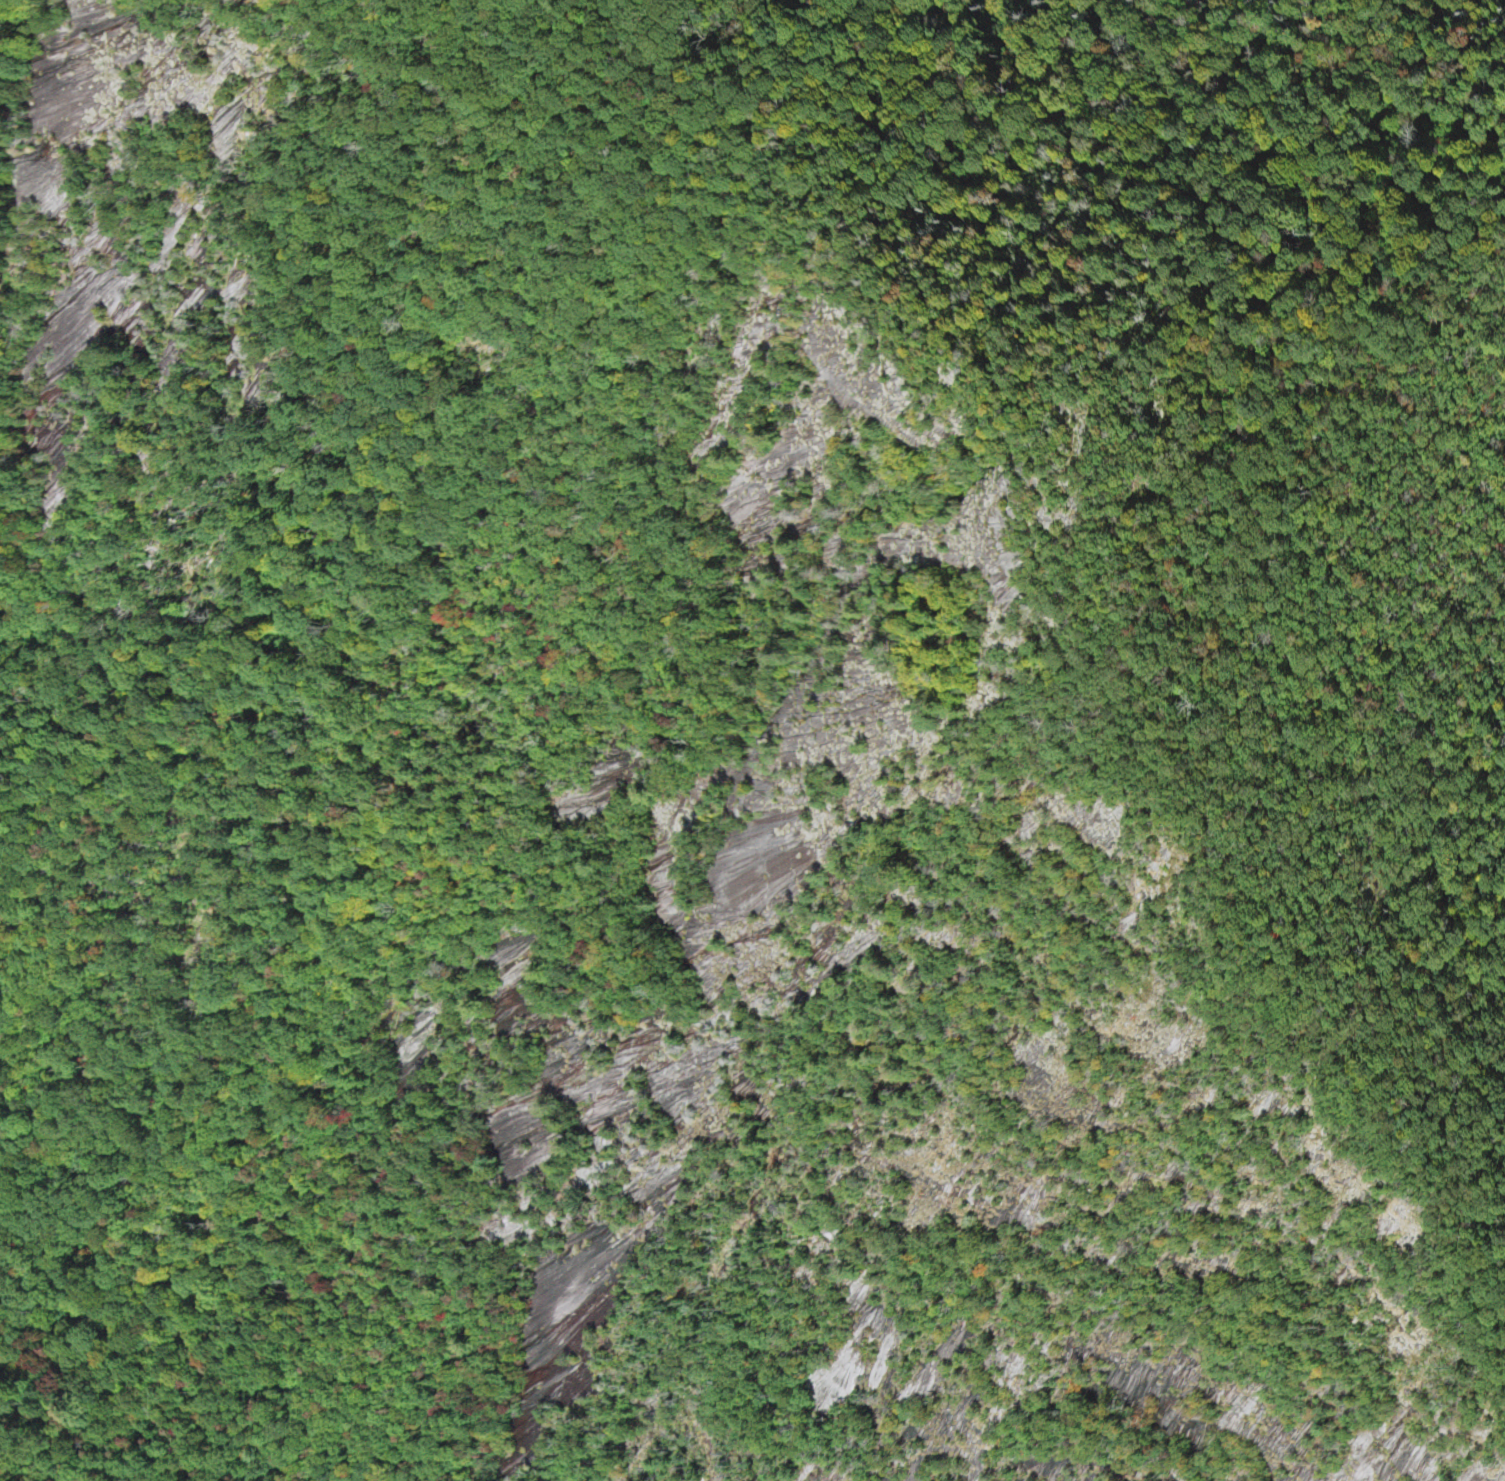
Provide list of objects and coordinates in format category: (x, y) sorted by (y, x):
road: (1467, 40)
road: (963, 67)
road: (1226, 885)

